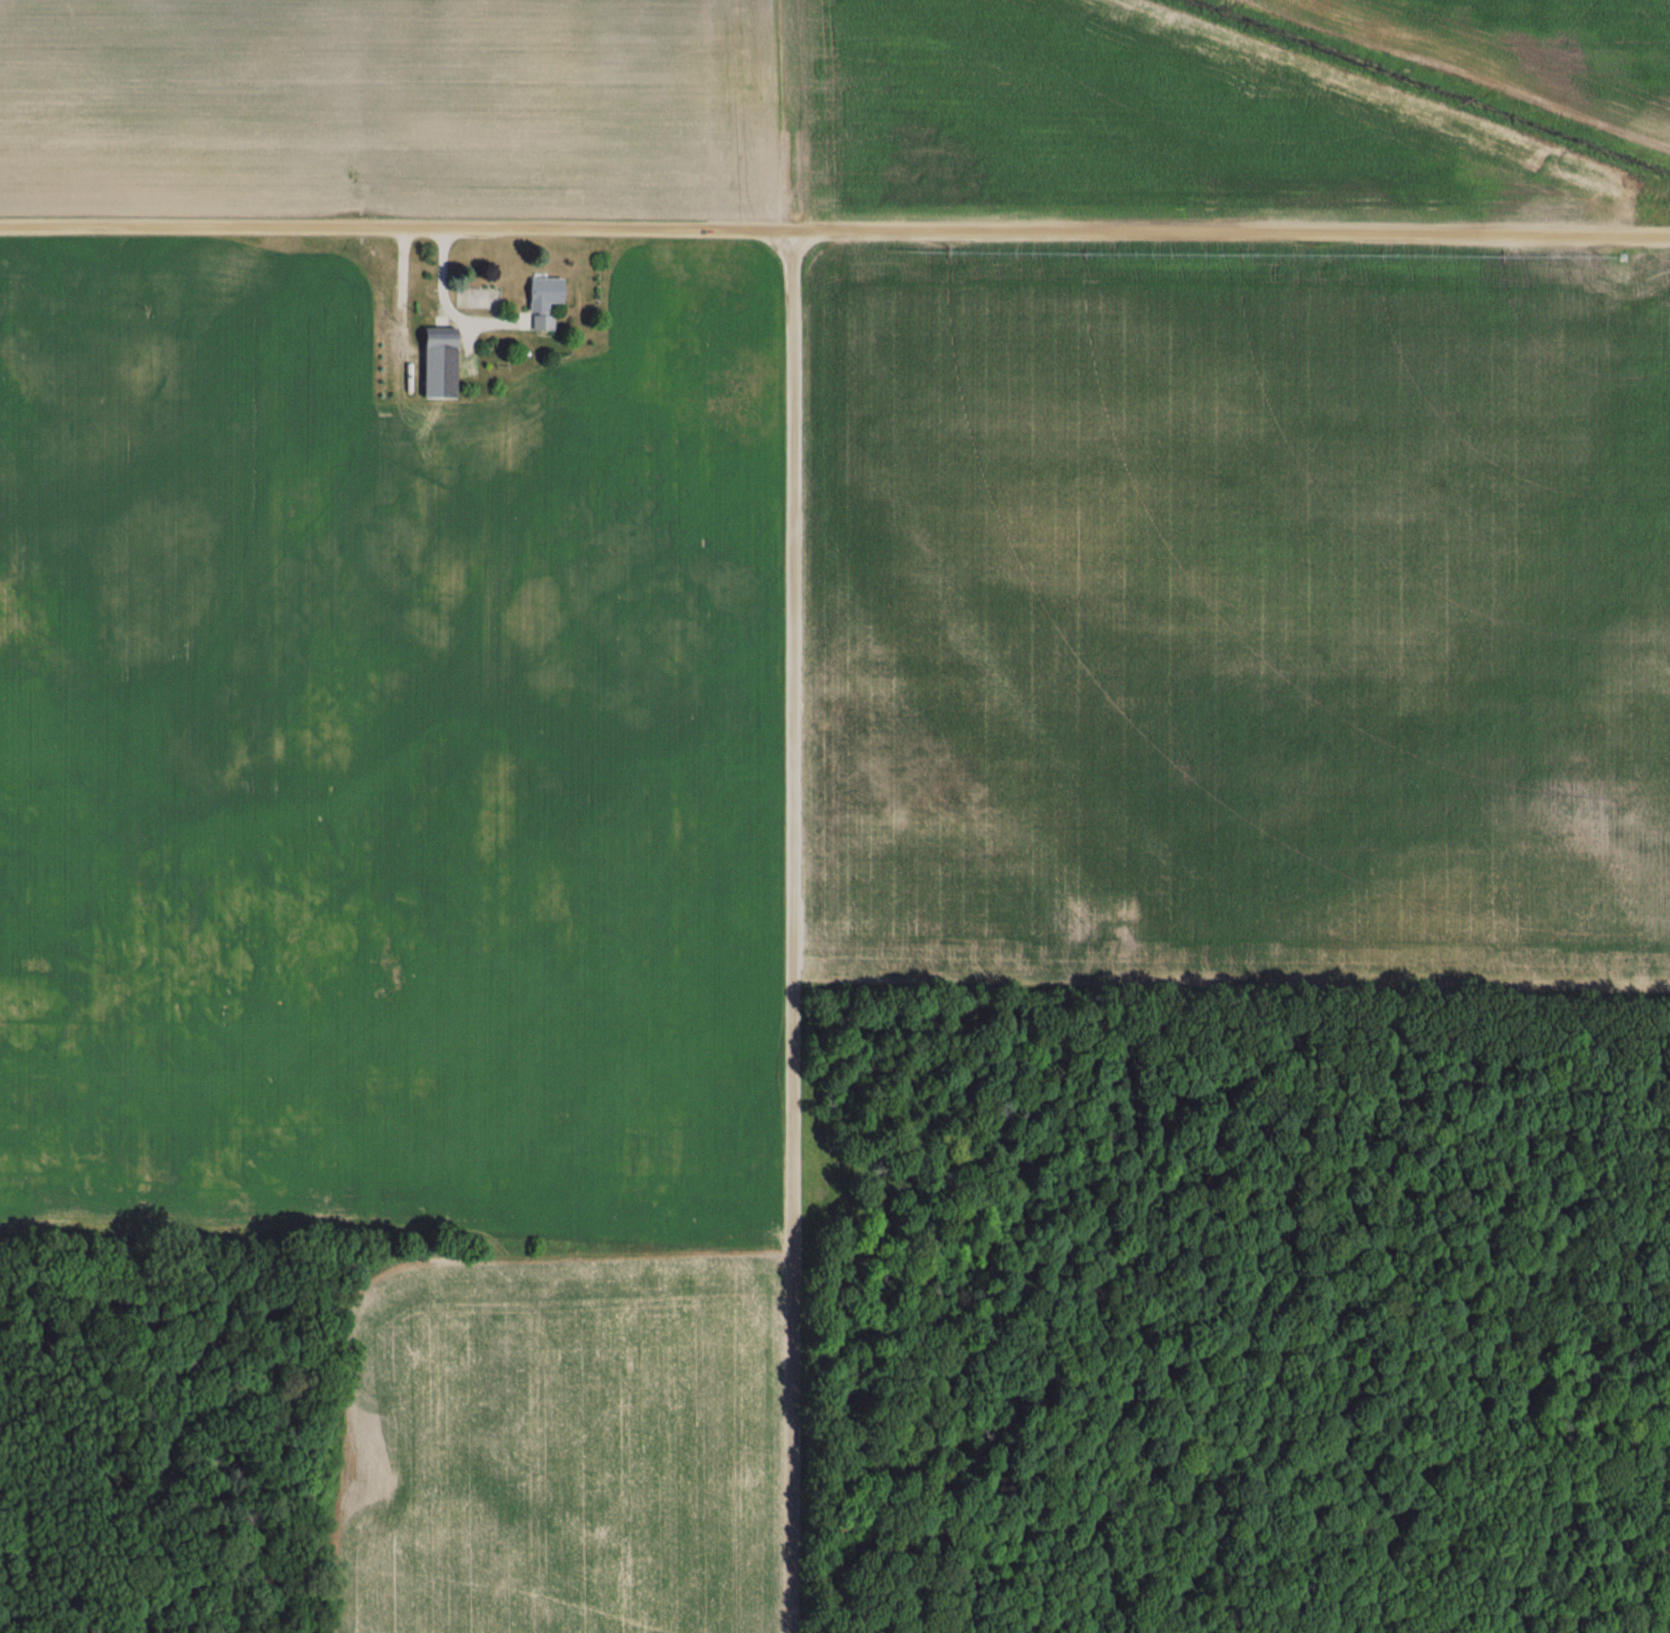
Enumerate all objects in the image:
road: (834, 230)
building: (543, 302)
road: (450, 307)
building: (437, 364)
road: (797, 932)

